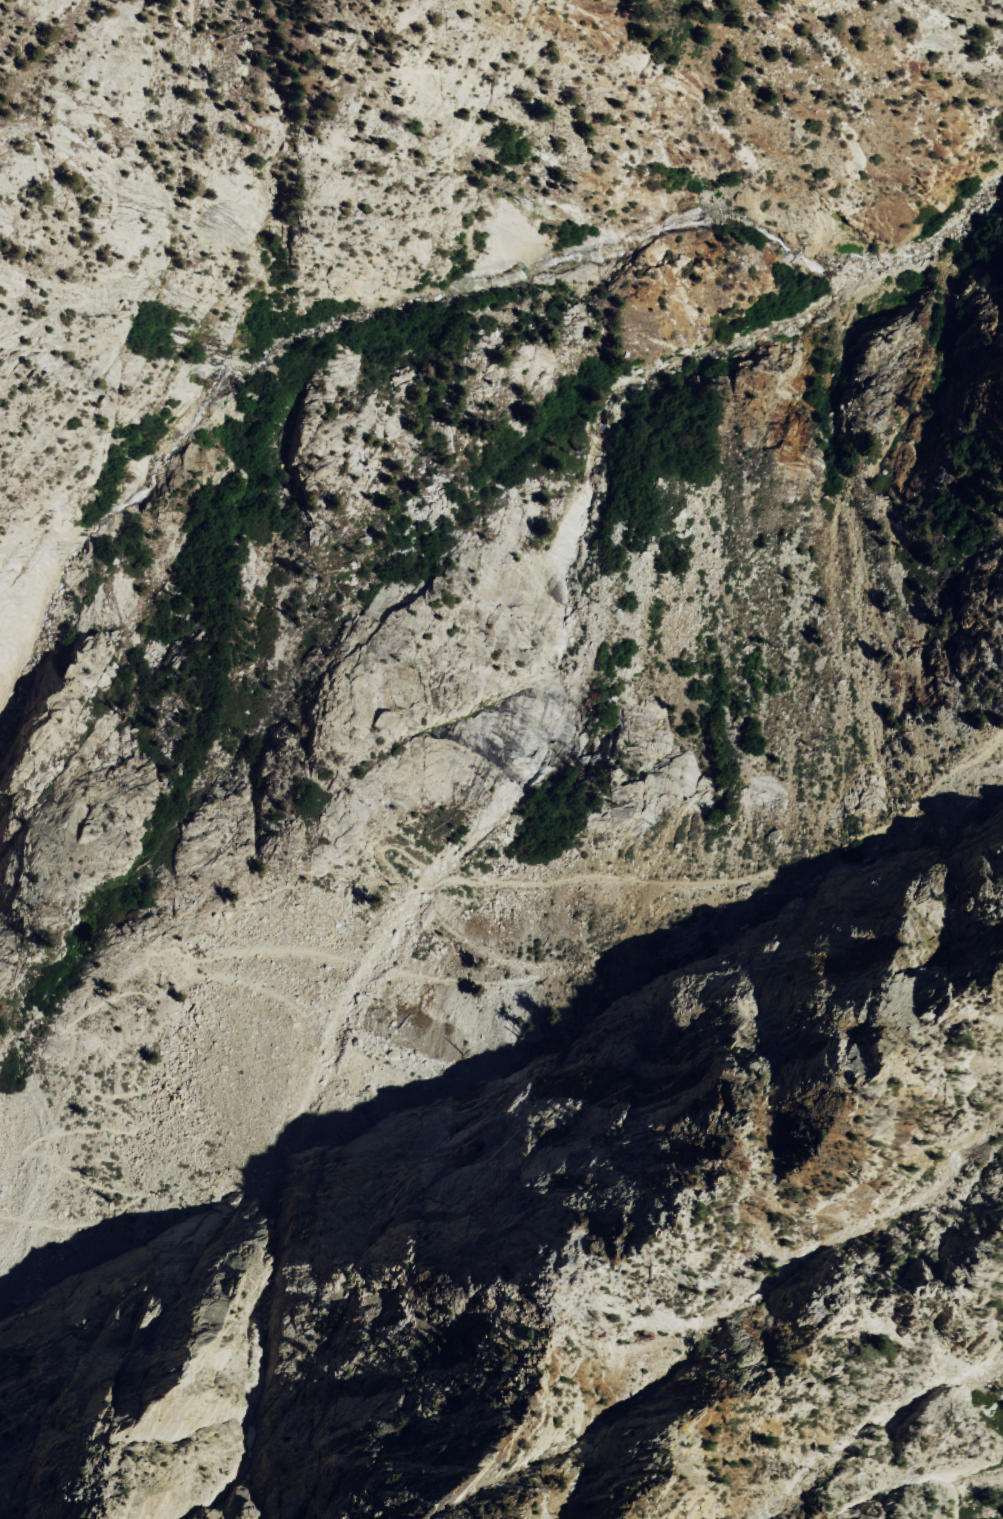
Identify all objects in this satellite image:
road: (220, 920)

